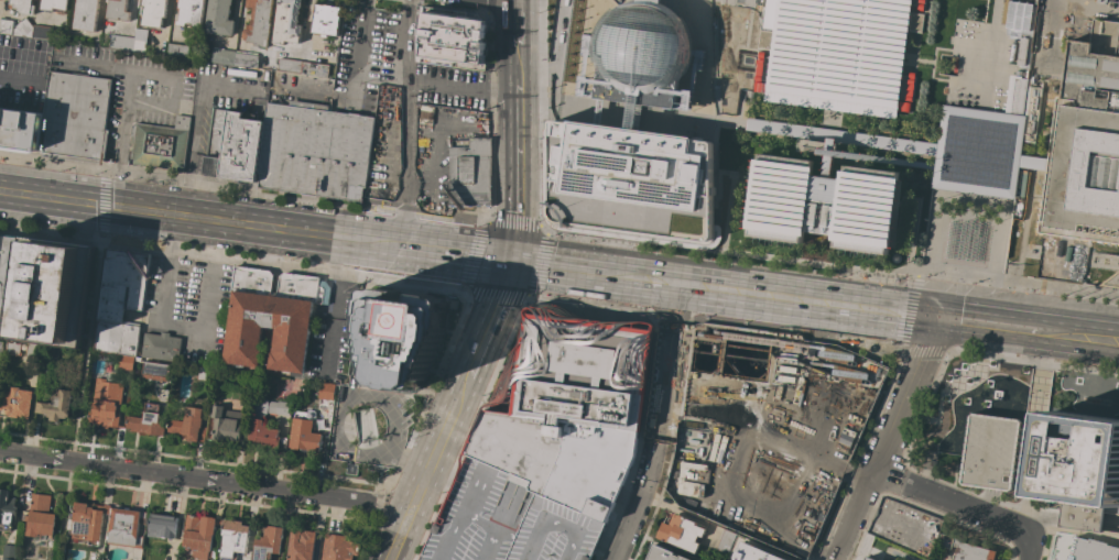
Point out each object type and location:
building: (54, 4)
building: (23, 6)
building: (118, 10)
building: (153, 12)
building: (191, 12)
road: (1055, 12)
building: (86, 14)
building: (219, 18)
building: (326, 19)
building: (259, 22)
building: (287, 22)
road: (518, 23)
road: (306, 24)
building: (7, 25)
building: (24, 28)
building: (45, 32)
building: (453, 37)
building: (141, 40)
building: (122, 42)
building: (641, 45)
road: (555, 48)
building: (178, 51)
road: (358, 51)
building: (222, 55)
road: (990, 55)
building: (838, 56)
building: (247, 58)
road: (715, 59)
road: (518, 64)
building: (290, 66)
building: (315, 69)
road: (18, 72)
road: (463, 87)
road: (124, 100)
building: (1022, 103)
building: (76, 117)
road: (406, 122)
building: (20, 129)
road: (784, 129)
building: (813, 138)
building: (1088, 139)
building: (216, 141)
building: (160, 144)
building: (241, 147)
road: (976, 149)
building: (315, 151)
road: (188, 152)
building: (977, 152)
road: (978, 152)
building: (1024, 161)
building: (621, 163)
road: (517, 171)
building: (469, 174)
road: (104, 202)
building: (823, 204)
traffic signals: (104, 205)
road: (174, 213)
road: (486, 224)
road: (967, 235)
road: (360, 239)
road: (439, 250)
road: (717, 252)
road: (555, 256)
traffic signals: (509, 260)
building: (8, 268)
road: (640, 268)
road: (341, 276)
road: (588, 284)
road: (675, 285)
road: (806, 289)
building: (51, 292)
road: (1055, 294)
building: (120, 300)
traffic signals: (936, 306)
road: (802, 311)
road: (991, 314)
building: (272, 317)
road: (933, 317)
helipad: (410, 321)
road: (161, 325)
road: (1083, 325)
traffic signals: (931, 328)
building: (403, 334)
road: (903, 336)
road: (1024, 341)
road: (330, 343)
building: (1, 347)
building: (161, 347)
road: (88, 348)
building: (14, 349)
building: (33, 351)
building: (53, 354)
road: (1045, 356)
building: (216, 361)
building: (123, 362)
road: (470, 362)
building: (156, 371)
building: (205, 373)
building: (218, 373)
building: (240, 377)
building: (326, 391)
fountain: (1012, 396)
building: (17, 403)
building: (106, 403)
road: (384, 404)
building: (56, 405)
building: (272, 406)
building: (572, 408)
road: (1036, 417)
building: (148, 421)
building: (226, 424)
building: (189, 425)
road: (656, 431)
building: (304, 432)
building: (265, 436)
road: (886, 444)
road: (345, 448)
road: (1032, 450)
road: (36, 455)
road: (408, 455)
building: (930, 460)
building: (1050, 462)
road: (1029, 471)
road: (240, 483)
road: (416, 493)
road: (986, 503)
road: (1024, 503)
road: (1011, 505)
building: (7, 507)
road: (962, 507)
road: (65, 510)
building: (40, 516)
road: (1034, 516)
road: (894, 520)
building: (88, 521)
building: (508, 521)
parking garage: (508, 521)
road: (1110, 523)
building: (903, 525)
building: (162, 526)
building: (126, 527)
building: (681, 532)
building: (198, 535)
building: (238, 536)
road: (395, 540)
building: (726, 540)
building: (268, 542)
building: (302, 545)
building: (338, 548)
building: (1082, 549)
building: (967, 550)
building: (10, 552)
building: (665, 552)
building: (754, 552)
building: (869, 558)
building: (863, 559)

